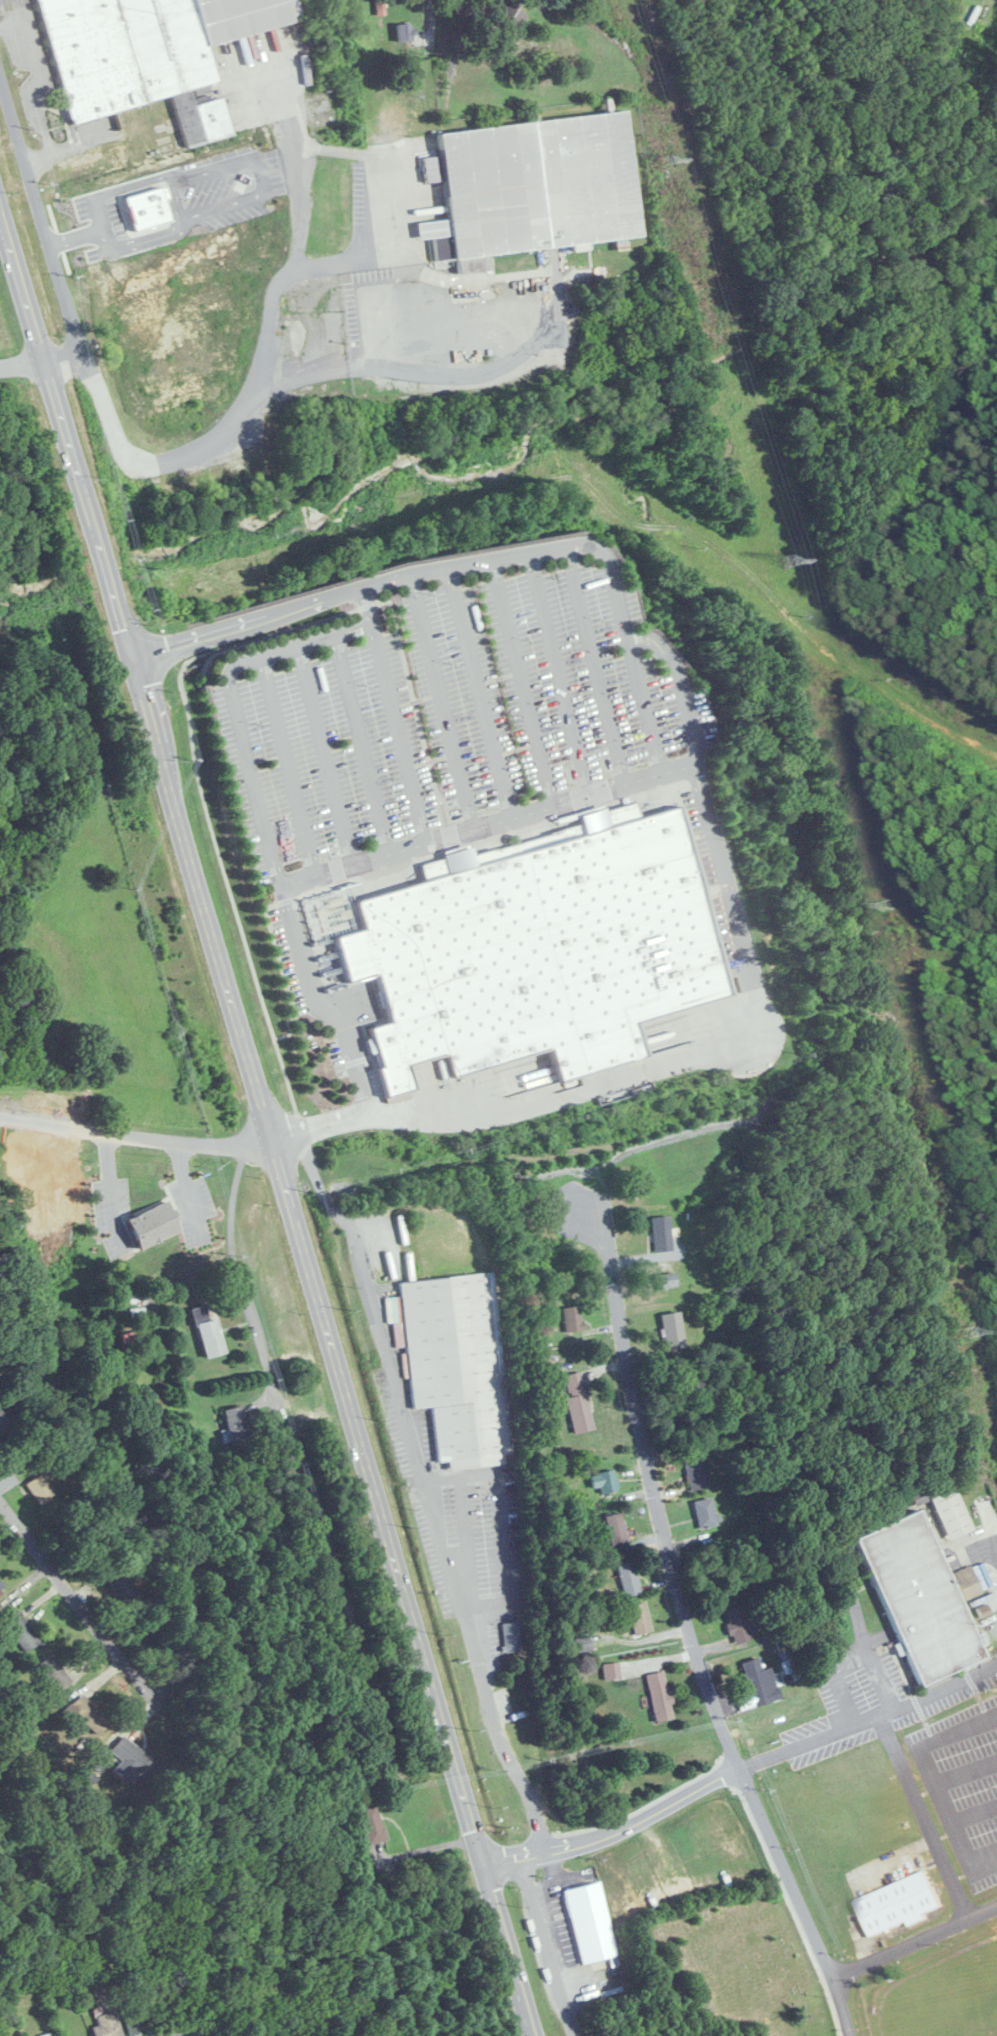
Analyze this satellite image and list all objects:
building: (380, 7)
building: (510, 14)
road: (430, 20)
road: (11, 24)
building: (405, 32)
road: (36, 88)
building: (398, 115)
power tower: (671, 161)
road: (375, 162)
road: (260, 173)
building: (537, 185)
building: (166, 187)
road: (176, 191)
road: (45, 233)
road: (76, 235)
road: (559, 292)
road: (413, 334)
road: (21, 359)
road: (256, 380)
power tower: (791, 561)
road: (366, 586)
traffic signals: (128, 654)
road: (437, 701)
parking lot: (449, 715)
road: (359, 741)
road: (320, 754)
road: (288, 764)
road: (673, 764)
road: (419, 803)
road: (260, 813)
road: (733, 898)
power tower: (891, 905)
building: (538, 951)
road: (518, 1102)
road: (266, 1127)
road: (135, 1136)
road: (187, 1187)
road: (109, 1198)
building: (154, 1225)
building: (662, 1233)
road: (239, 1278)
building: (667, 1280)
building: (572, 1318)
building: (673, 1330)
power tower: (972, 1331)
building: (208, 1332)
building: (457, 1365)
building: (578, 1402)
building: (3, 1422)
building: (238, 1426)
building: (696, 1472)
road: (496, 1477)
building: (604, 1481)
building: (39, 1489)
road: (426, 1492)
building: (706, 1511)
building: (951, 1512)
road: (992, 1520)
building: (616, 1530)
road: (731, 1550)
building: (629, 1579)
building: (119, 1589)
building: (1, 1591)
building: (920, 1597)
road: (685, 1616)
road: (96, 1618)
building: (640, 1618)
building: (738, 1624)
building: (22, 1631)
building: (513, 1637)
road: (865, 1639)
building: (611, 1670)
building: (53, 1674)
road: (837, 1675)
building: (760, 1683)
building: (660, 1696)
building: (86, 1715)
road: (868, 1717)
road: (957, 1728)
building: (133, 1757)
road: (966, 1770)
road: (974, 1812)
road: (925, 1814)
building: (371, 1824)
road: (616, 1832)
road: (984, 1866)
building: (901, 1905)
building: (591, 1923)
road: (914, 1942)
road: (546, 1948)
park: (736, 1962)
building: (135, 2021)
building: (107, 2025)
road: (200, 2032)
building: (47, 2035)

